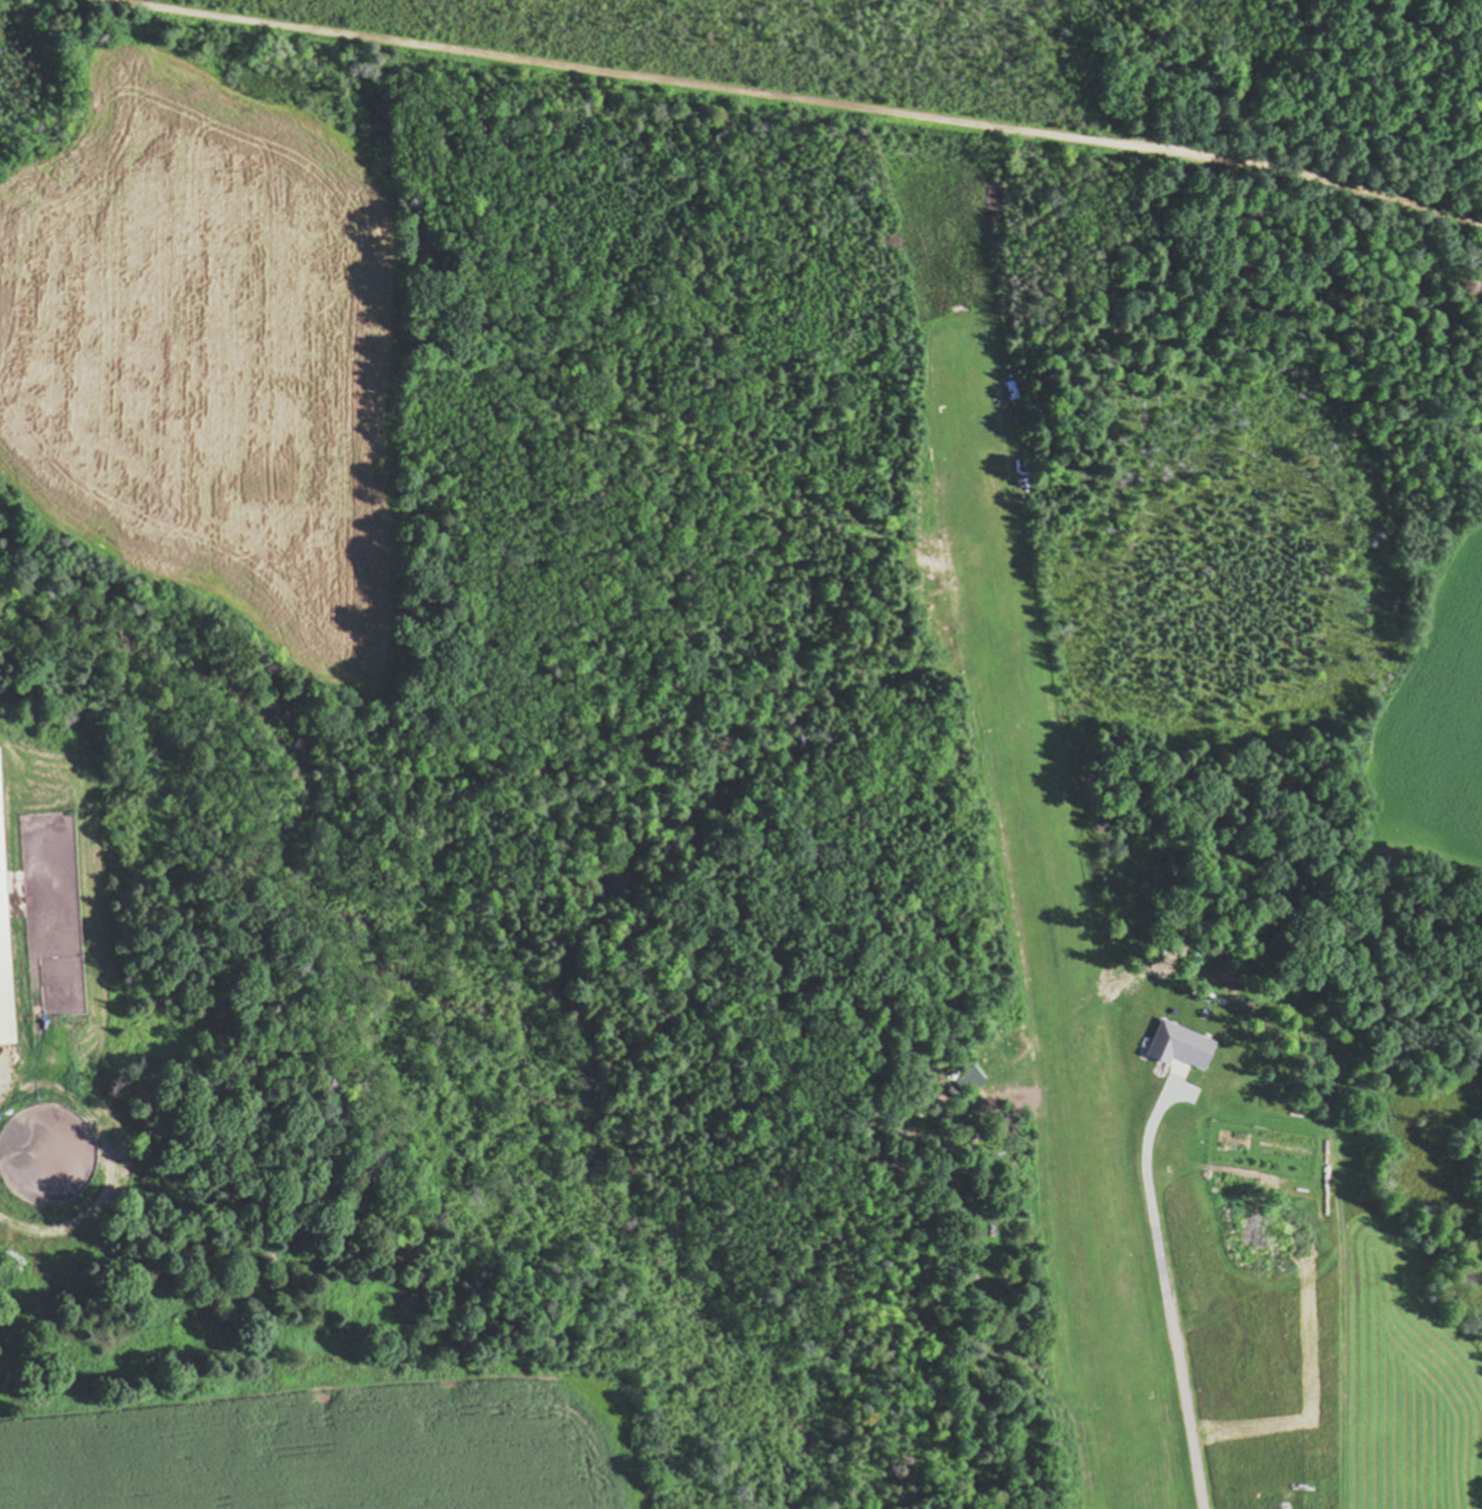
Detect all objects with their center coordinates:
road: (819, 100)
airport runway: (1045, 904)
building: (4, 946)
building: (48, 1156)

